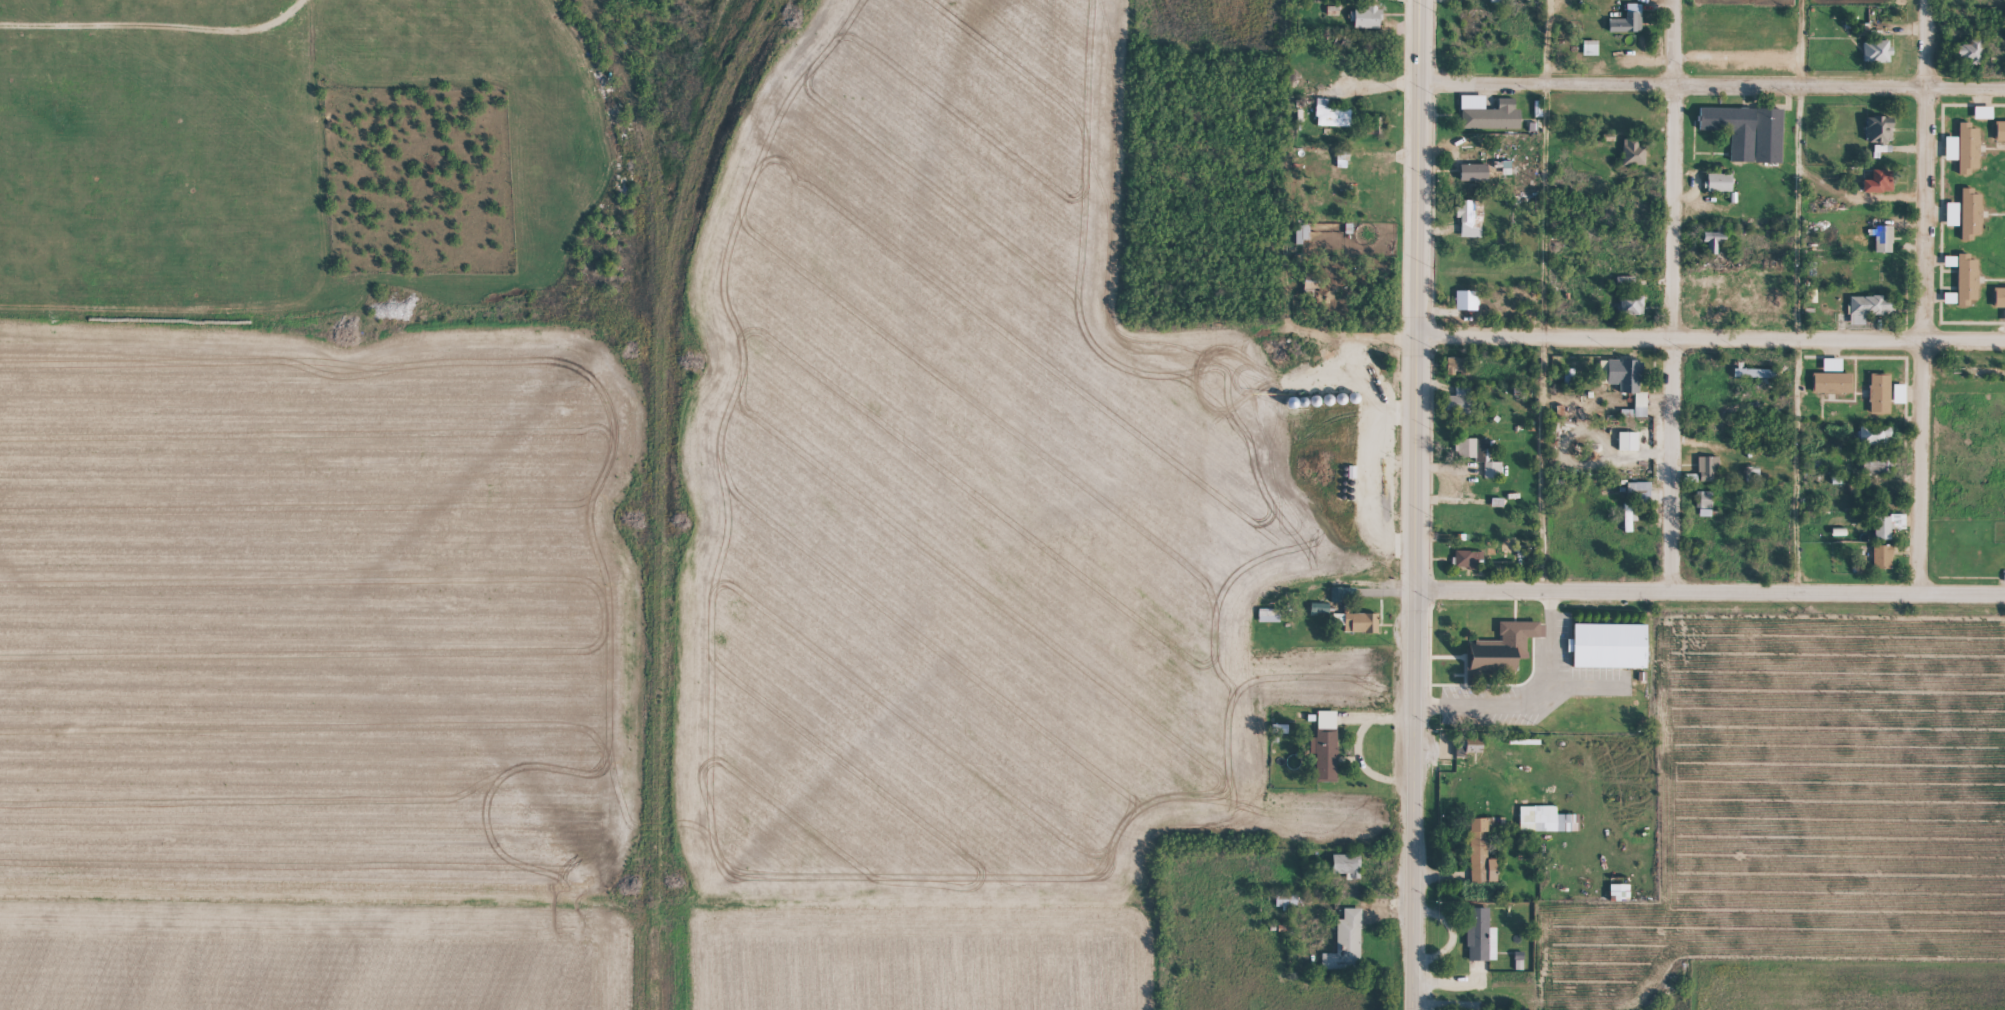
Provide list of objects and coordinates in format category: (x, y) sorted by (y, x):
building: (1371, 1)
building: (1469, 2)
building: (1331, 9)
building: (1364, 16)
building: (1367, 26)
building: (1628, 28)
building: (1591, 56)
building: (1877, 60)
building: (1972, 61)
road: (1713, 85)
building: (1329, 113)
building: (1984, 121)
building: (1489, 122)
building: (1375, 125)
building: (1881, 138)
building: (1749, 140)
building: (2000, 140)
building: (1342, 152)
building: (1952, 157)
building: (1969, 157)
building: (1634, 162)
building: (1369, 179)
building: (1475, 181)
building: (1881, 190)
building: (1720, 191)
building: (1953, 223)
building: (1971, 223)
building: (1469, 228)
building: (1883, 247)
building: (1715, 250)
building: (1951, 270)
building: (1968, 288)
building: (1627, 289)
road: (1418, 295)
road: (1547, 296)
road: (1674, 297)
road: (1797, 297)
road: (1925, 297)
building: (1951, 306)
building: (1999, 306)
building: (1467, 309)
building: (1633, 314)
building: (1869, 316)
road: (1711, 338)
building: (1456, 373)
building: (1833, 373)
building: (1755, 382)
building: (1630, 391)
building: (1833, 392)
building: (1351, 397)
silo: (1351, 397)
building: (1339, 398)
silo: (1339, 398)
building: (1326, 399)
silo: (1326, 399)
building: (1312, 400)
silo: (1312, 400)
building: (1880, 402)
building: (1900, 402)
building: (1459, 409)
building: (1876, 443)
building: (1629, 450)
building: (1472, 457)
building: (1876, 475)
building: (1708, 477)
building: (1493, 479)
railway: (652, 498)
building: (1639, 500)
building: (1630, 525)
building: (1887, 534)
building: (1883, 566)
building: (1467, 567)
road: (1711, 595)
building: (1340, 603)
building: (1320, 617)
building: (1269, 624)
building: (1362, 632)
building: (1612, 655)
building: (1503, 658)
building: (1280, 737)
building: (1476, 754)
building: (1326, 755)
road: (1416, 800)
building: (1546, 828)
building: (1481, 862)
building: (1348, 874)
building: (1620, 901)
building: (1481, 944)
building: (1346, 952)

